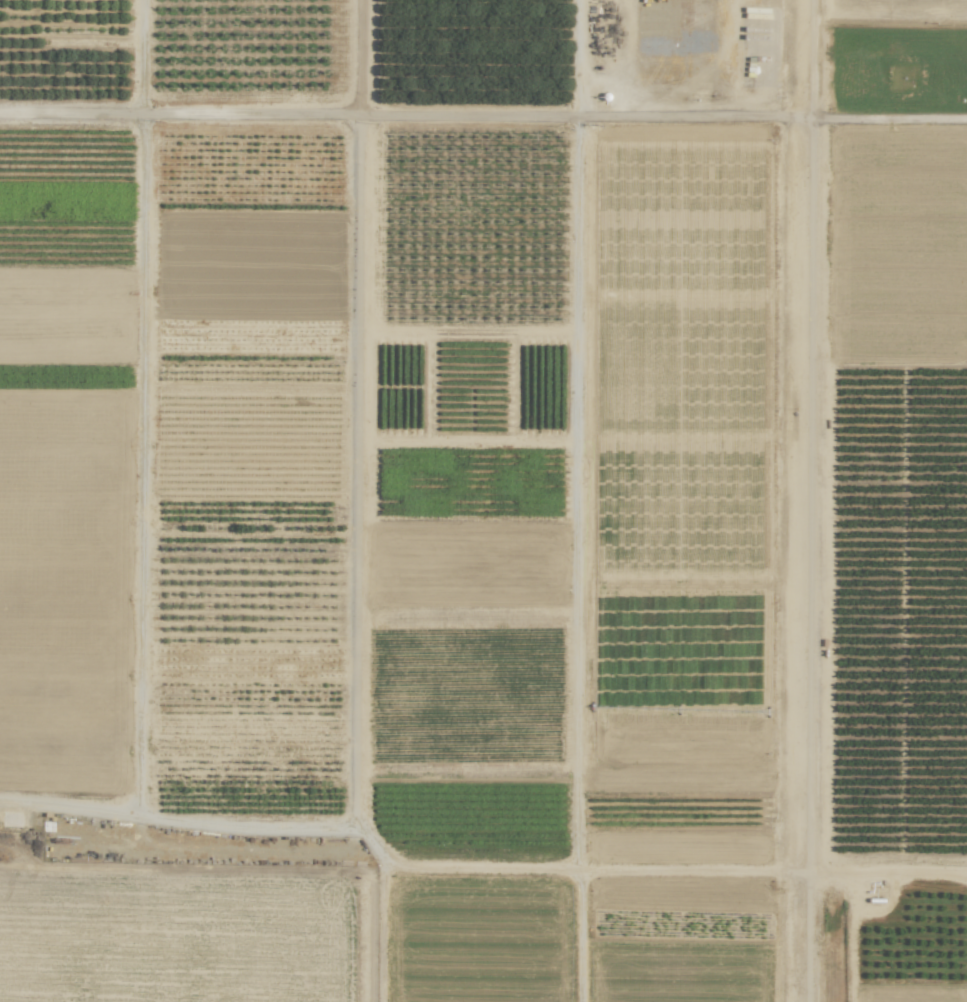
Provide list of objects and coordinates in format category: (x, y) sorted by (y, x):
road: (483, 115)
road: (356, 413)
road: (574, 433)
airport runway: (804, 500)
road: (476, 863)

